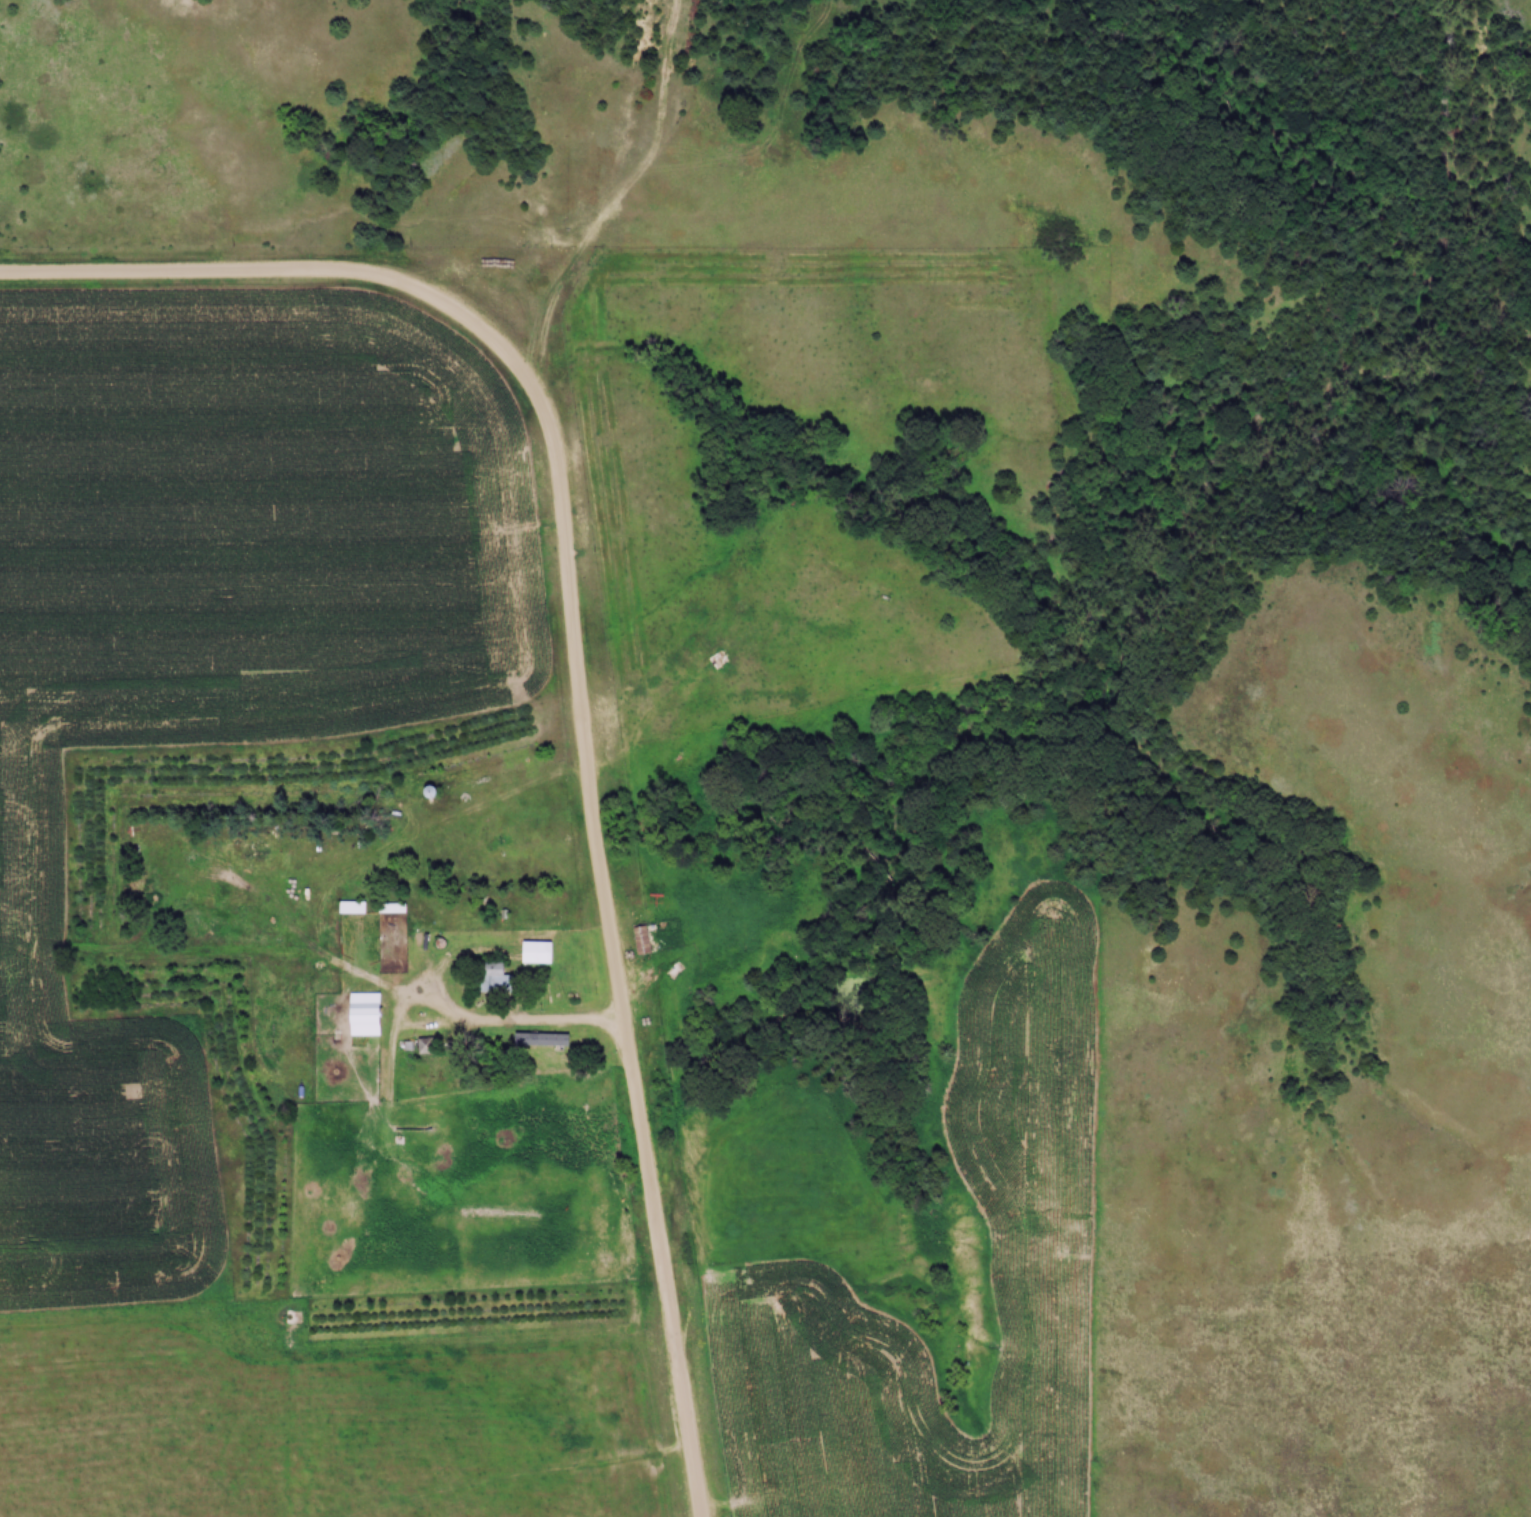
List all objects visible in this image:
building: (717, 660)
road: (578, 667)
building: (393, 908)
building: (643, 940)
building: (531, 951)
building: (492, 975)
building: (367, 1014)
road: (515, 1028)
building: (556, 1043)
building: (427, 1045)

